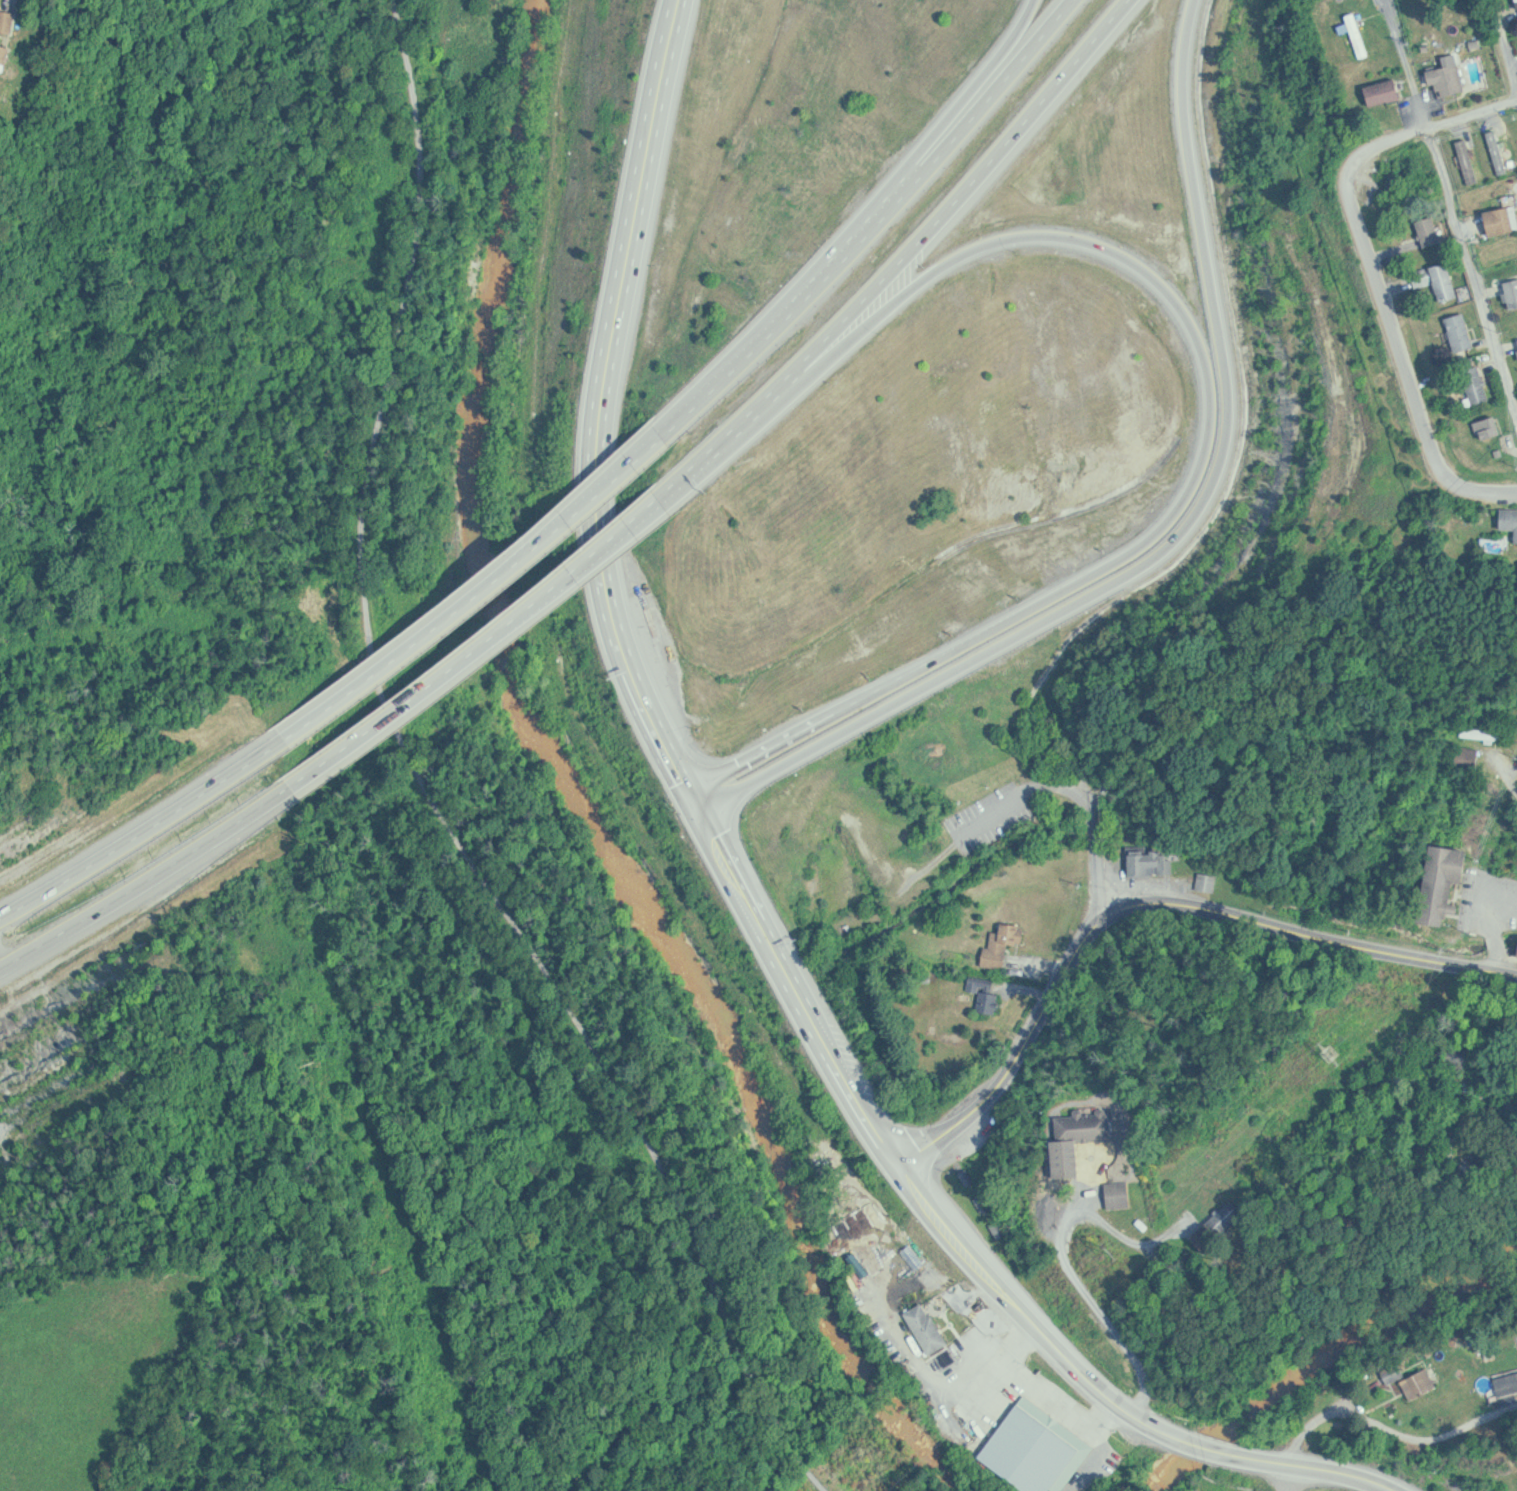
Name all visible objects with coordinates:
building: (8, 21)
building: (1360, 35)
road: (1508, 39)
building: (5, 54)
building: (1449, 79)
building: (1385, 93)
road: (1419, 129)
road: (913, 165)
road: (1454, 202)
building: (1497, 219)
road: (881, 225)
building: (1425, 231)
road: (639, 235)
road: (909, 258)
building: (1446, 281)
building: (1508, 294)
building: (1456, 332)
building: (1515, 344)
road: (1408, 365)
building: (1477, 384)
road: (1214, 413)
building: (1491, 427)
building: (1510, 518)
road: (1184, 539)
road: (485, 601)
road: (481, 660)
building: (1484, 733)
building: (1470, 757)
road: (1511, 779)
river: (564, 787)
road: (428, 789)
traffic signals: (701, 807)
parking lot: (1004, 813)
road: (714, 832)
road: (1103, 839)
road: (145, 840)
building: (1153, 862)
building: (1210, 882)
building: (1445, 882)
road: (142, 892)
road: (1330, 938)
building: (1004, 944)
road: (3, 966)
building: (988, 995)
road: (1032, 1038)
power tower: (1325, 1054)
building: (1080, 1136)
building: (1121, 1194)
building: (1228, 1215)
road: (1132, 1239)
road: (1106, 1312)
road: (1025, 1321)
building: (928, 1328)
river: (1324, 1365)
building: (1396, 1373)
building: (1421, 1383)
building: (1503, 1384)
road: (1309, 1428)
building: (1039, 1449)
road: (1201, 1451)
road: (1304, 1471)
road: (1290, 1480)
road: (1482, 1487)

